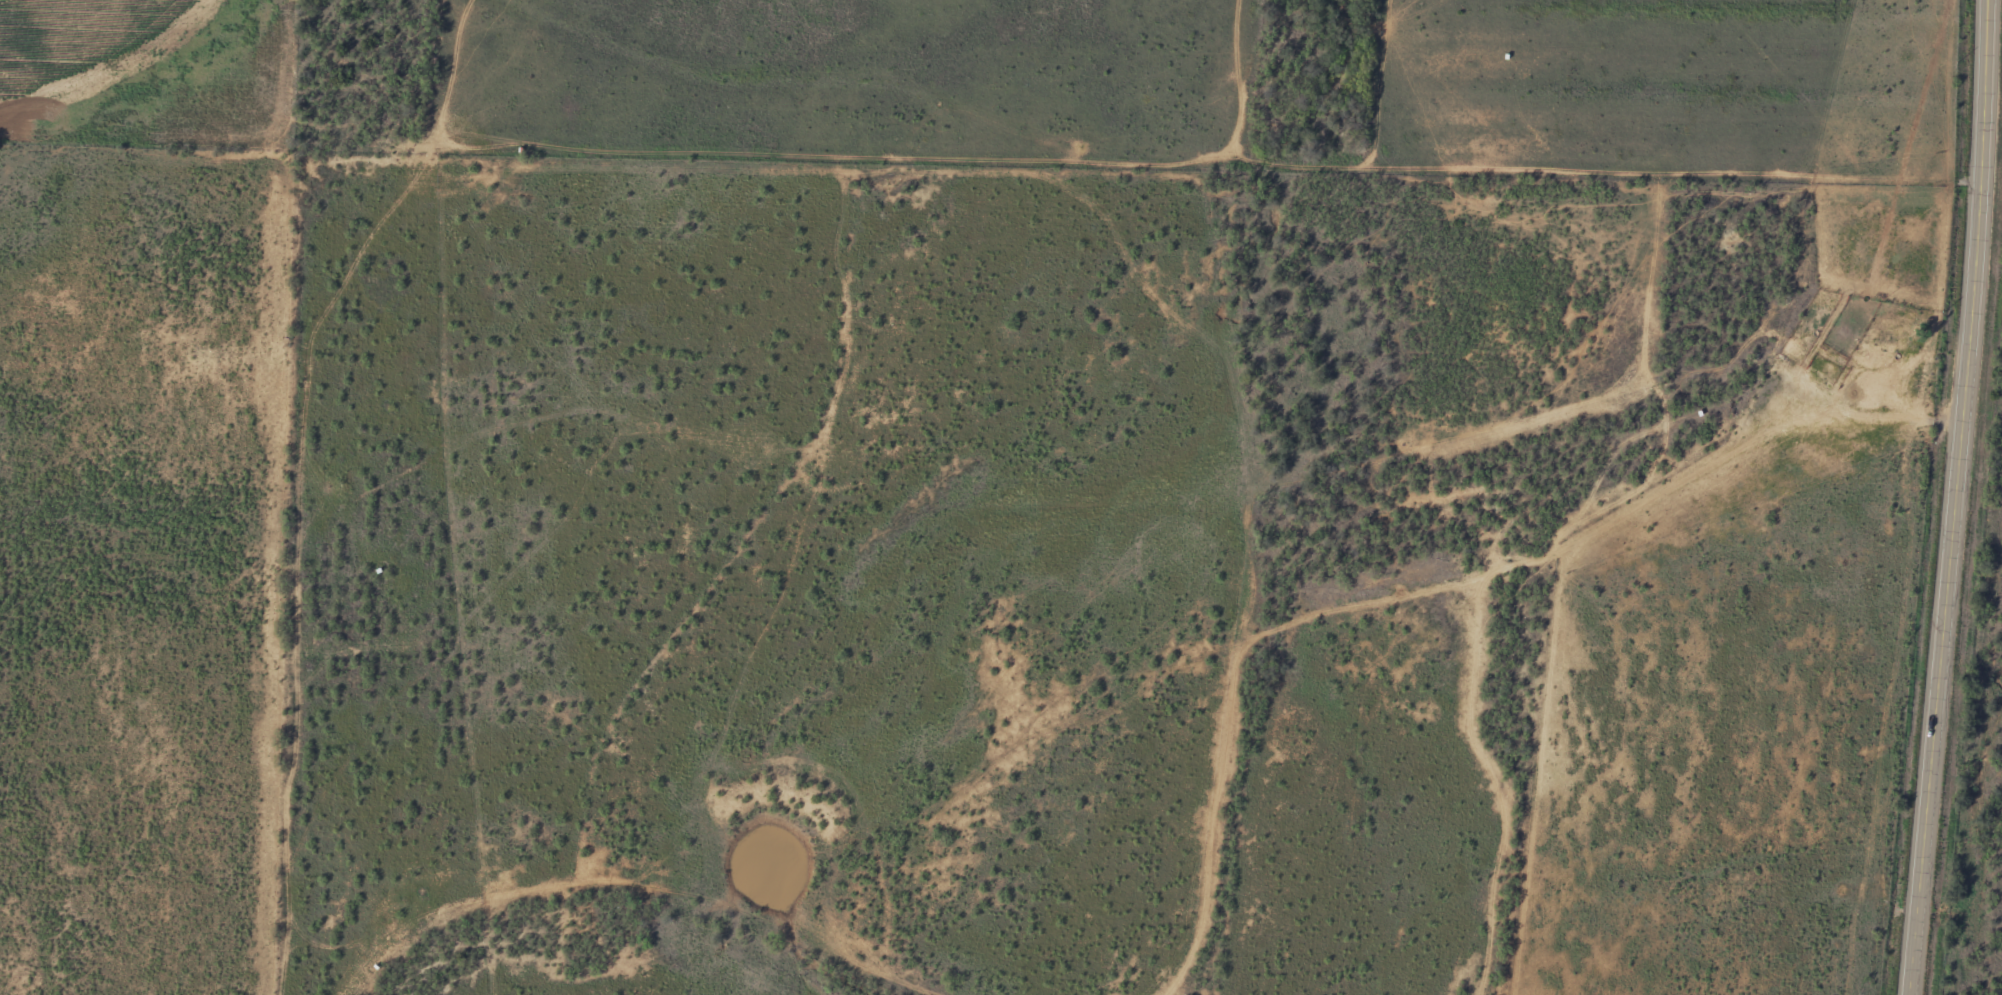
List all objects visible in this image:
road: (1955, 497)
road: (1446, 534)
road: (894, 984)

